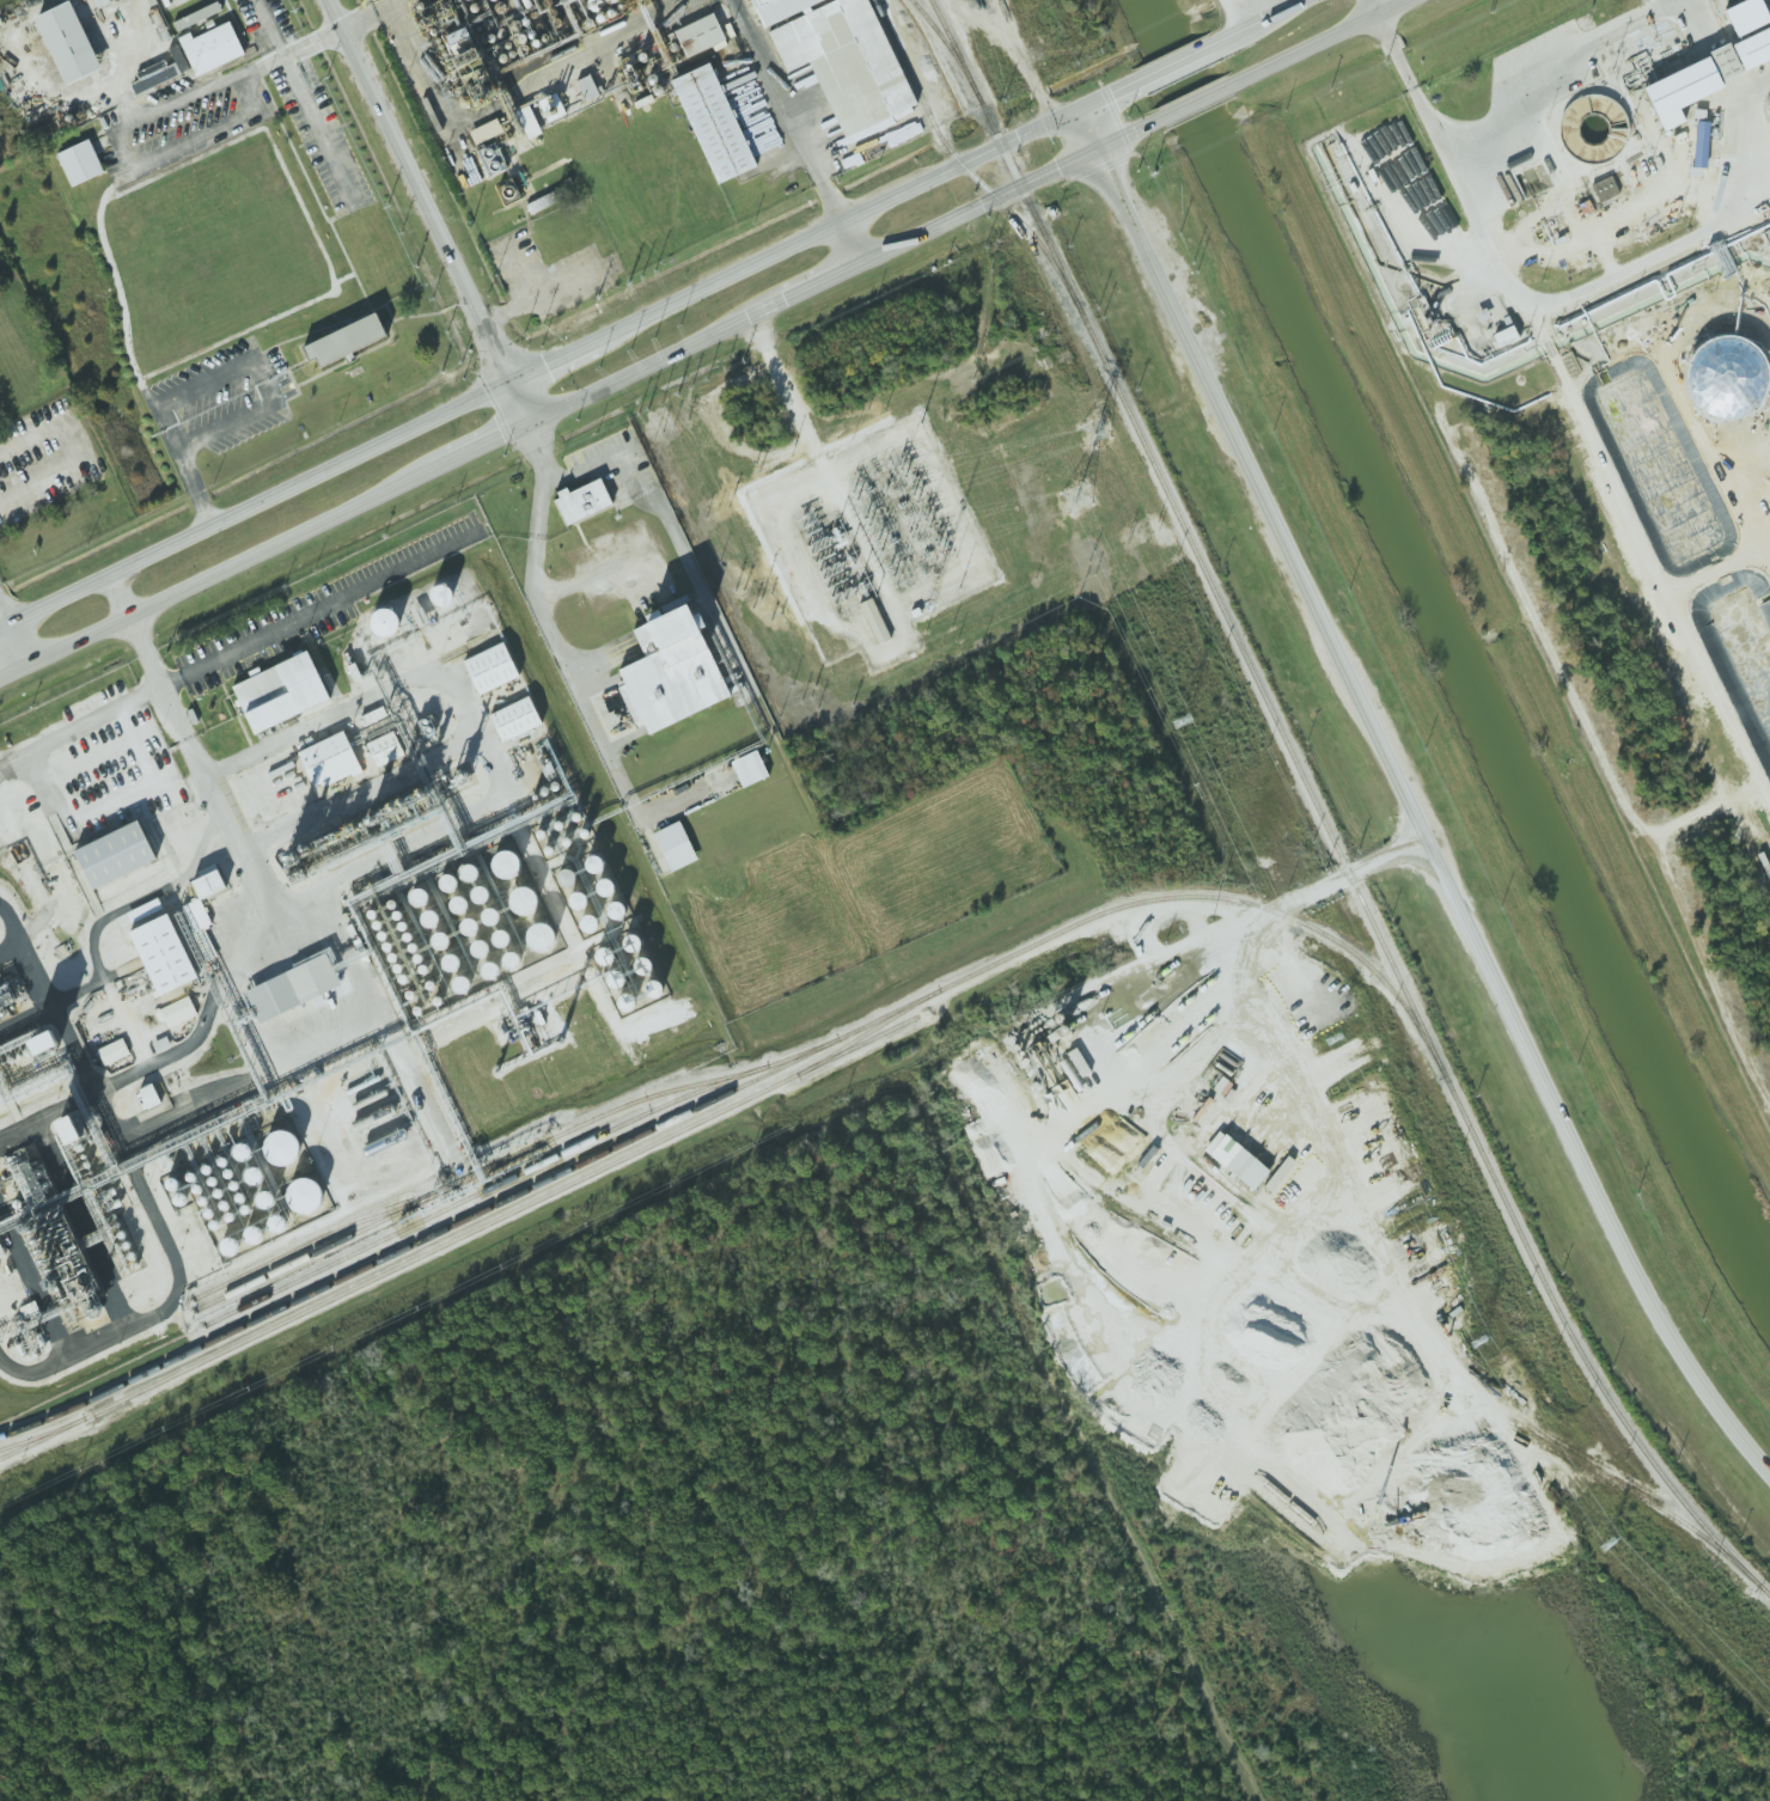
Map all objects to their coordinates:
building: (102, 2)
road: (395, 2)
road: (1375, 7)
building: (779, 8)
building: (196, 16)
building: (1746, 16)
road: (1267, 23)
road: (269, 28)
road: (746, 29)
building: (698, 33)
road: (1325, 39)
building: (67, 43)
building: (212, 48)
railway: (948, 48)
building: (1754, 50)
road: (1184, 60)
road: (423, 61)
road: (261, 65)
building: (154, 74)
road: (1571, 78)
building: (587, 87)
road: (194, 94)
road: (301, 96)
road: (1200, 99)
building: (539, 114)
road: (243, 116)
building: (713, 122)
building: (486, 130)
road: (801, 139)
building: (1701, 140)
road: (160, 154)
building: (490, 159)
building: (79, 163)
railway: (964, 166)
road: (1453, 175)
building: (1605, 188)
road: (1009, 189)
road: (426, 191)
building: (541, 202)
road: (873, 204)
road: (853, 240)
road: (1658, 267)
road: (520, 270)
road: (824, 280)
road: (547, 291)
building: (1506, 335)
building: (344, 340)
road: (661, 356)
road: (251, 360)
road: (560, 365)
traffic signals: (520, 385)
road: (787, 396)
road: (530, 401)
wastewater plant: (1594, 402)
traffic signals: (539, 416)
power tower: (1094, 433)
road: (487, 441)
road: (78, 451)
road: (587, 463)
road: (622, 471)
road: (543, 477)
road: (199, 489)
power tower: (1076, 496)
building: (581, 501)
road: (260, 509)
power substation: (873, 541)
road: (1658, 551)
road: (228, 567)
road: (122, 598)
road: (318, 606)
building: (420, 616)
building: (874, 621)
road: (5, 622)
building: (384, 622)
road: (16, 648)
building: (490, 668)
road: (11, 671)
building: (670, 671)
building: (280, 691)
building: (514, 719)
road: (591, 722)
power tower: (1183, 722)
road: (80, 725)
road: (481, 732)
building: (384, 747)
building: (328, 757)
building: (749, 768)
road: (208, 786)
road: (111, 798)
road: (1411, 799)
railway: (1322, 814)
building: (675, 845)
building: (115, 854)
road: (1331, 883)
building: (207, 884)
building: (199, 926)
building: (161, 953)
building: (294, 989)
building: (177, 1012)
railway: (868, 1032)
power tower: (1335, 1039)
building: (44, 1043)
building: (112, 1051)
railway: (740, 1086)
building: (149, 1095)
building: (69, 1129)
building: (281, 1148)
railway: (511, 1159)
building: (1235, 1159)
building: (1278, 1173)
railway: (484, 1190)
building: (305, 1195)
railway: (460, 1237)
railway: (1377, 1239)
railway: (306, 1244)
building: (1, 1251)
railway: (1167, 1332)
power tower: (1478, 1341)
railway: (1367, 1347)
railway: (42, 1434)
power tower: (1609, 1543)

